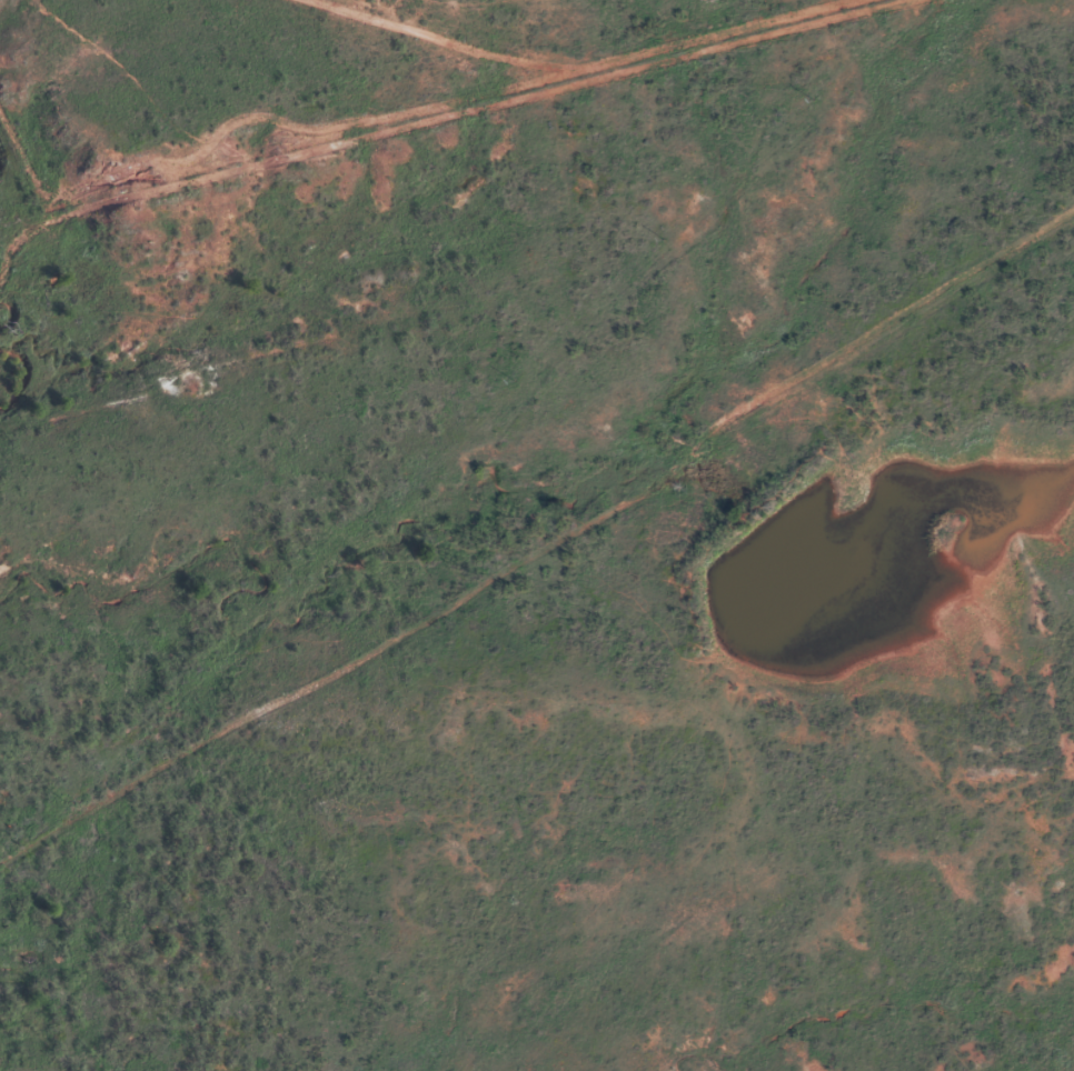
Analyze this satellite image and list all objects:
road: (550, 579)

